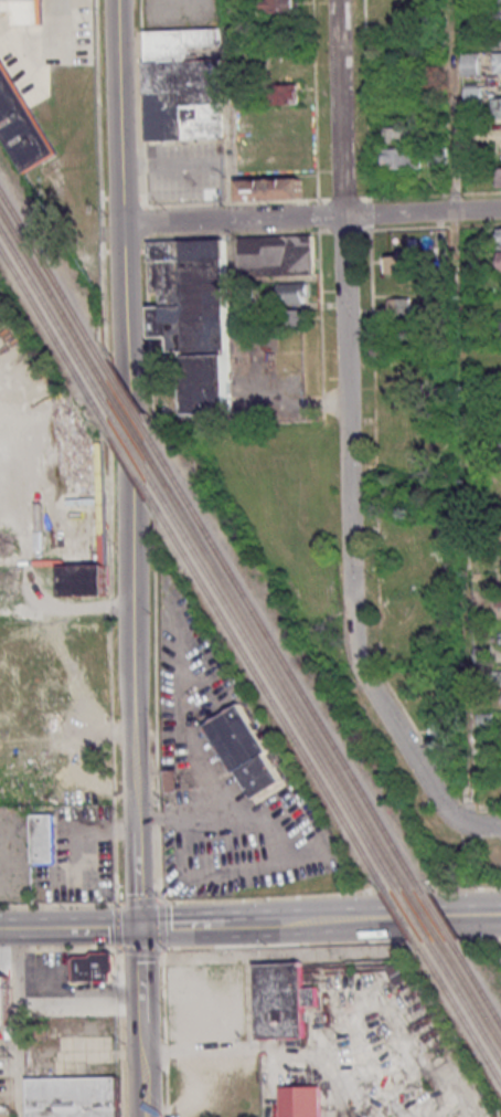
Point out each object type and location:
building: (280, 7)
building: (25, 10)
building: (495, 12)
building: (497, 39)
building: (497, 62)
building: (468, 63)
building: (181, 85)
building: (284, 94)
building: (471, 94)
building: (495, 118)
building: (394, 135)
building: (399, 158)
road: (205, 160)
building: (498, 177)
building: (269, 189)
road: (310, 218)
building: (498, 238)
building: (274, 255)
building: (498, 261)
building: (394, 264)
railway: (47, 275)
building: (291, 293)
railway: (49, 295)
building: (397, 307)
railway: (50, 313)
building: (193, 316)
building: (297, 316)
building: (499, 327)
railway: (49, 330)
railway: (126, 402)
road: (263, 403)
road: (124, 415)
railway: (126, 424)
railway: (127, 443)
road: (344, 450)
railway: (127, 462)
building: (86, 492)
park: (280, 504)
road: (150, 558)
building: (82, 582)
railway: (284, 663)
railway: (277, 675)
railway: (273, 685)
railway: (267, 696)
building: (244, 750)
road: (220, 812)
building: (42, 845)
parking lot: (13, 855)
parking lot: (79, 862)
road: (134, 879)
road: (249, 896)
railway: (422, 915)
railway: (433, 915)
railway: (411, 916)
railway: (401, 917)
road: (318, 920)
road: (74, 927)
traffic signals: (136, 927)
road: (7, 929)
road: (330, 944)
road: (57, 949)
road: (138, 949)
building: (88, 967)
building: (396, 972)
road: (137, 973)
building: (206, 990)
railway: (478, 990)
road: (57, 999)
railway: (472, 999)
building: (4, 1000)
building: (279, 1000)
railway: (467, 1009)
railway: (461, 1019)
road: (15, 1023)
road: (8, 1048)
road: (139, 1068)
building: (68, 1096)
building: (299, 1102)

